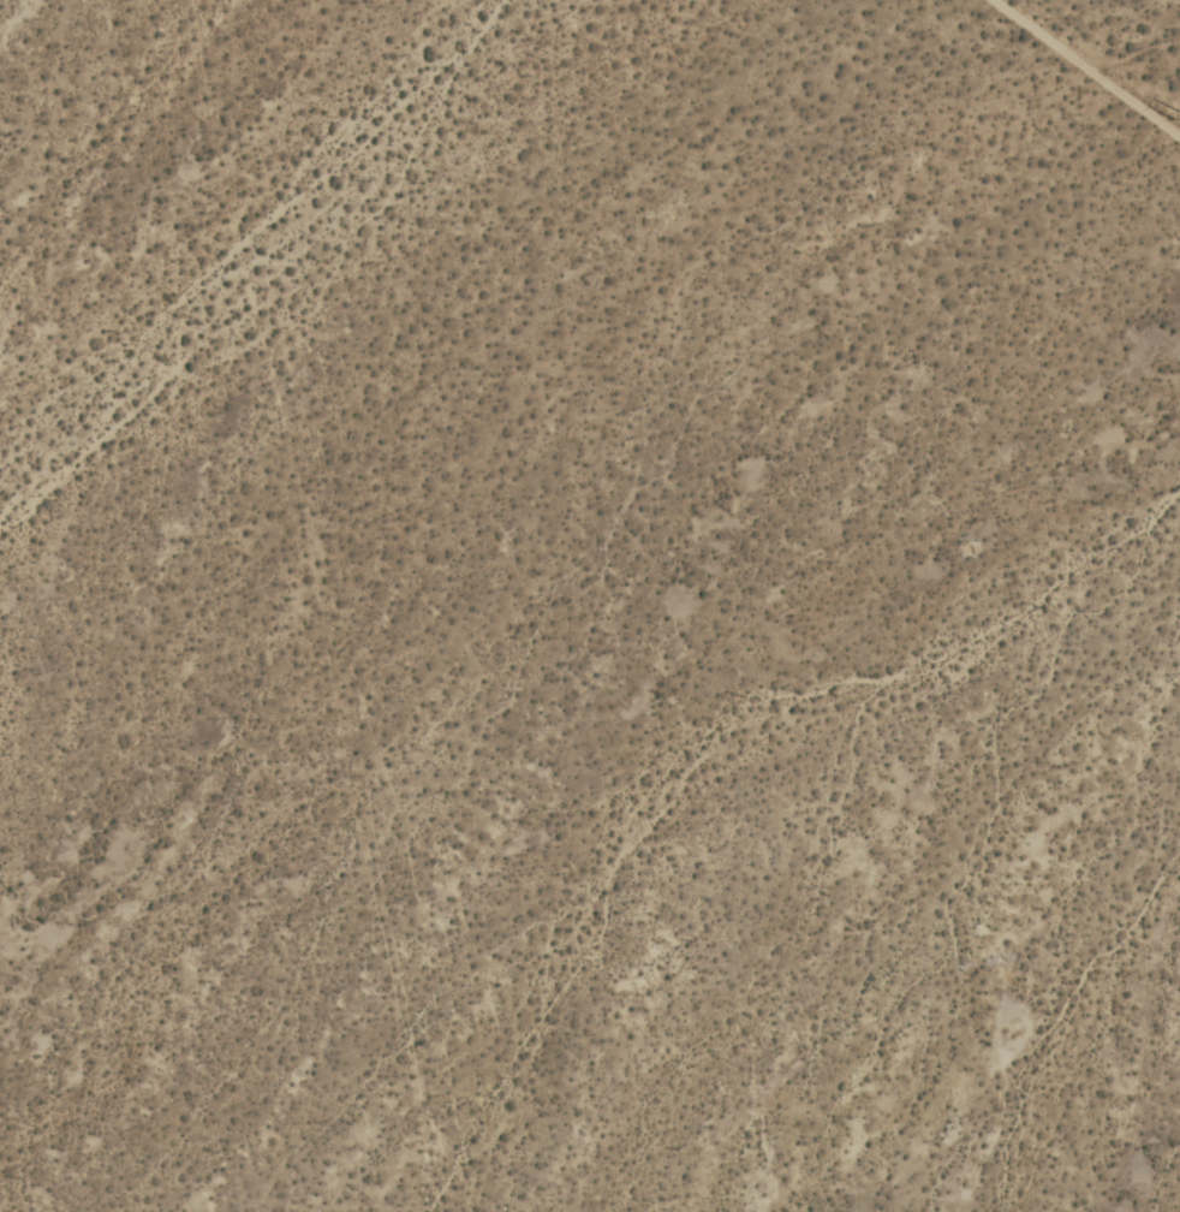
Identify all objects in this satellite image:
road: (1085, 69)
power tower: (1178, 118)

